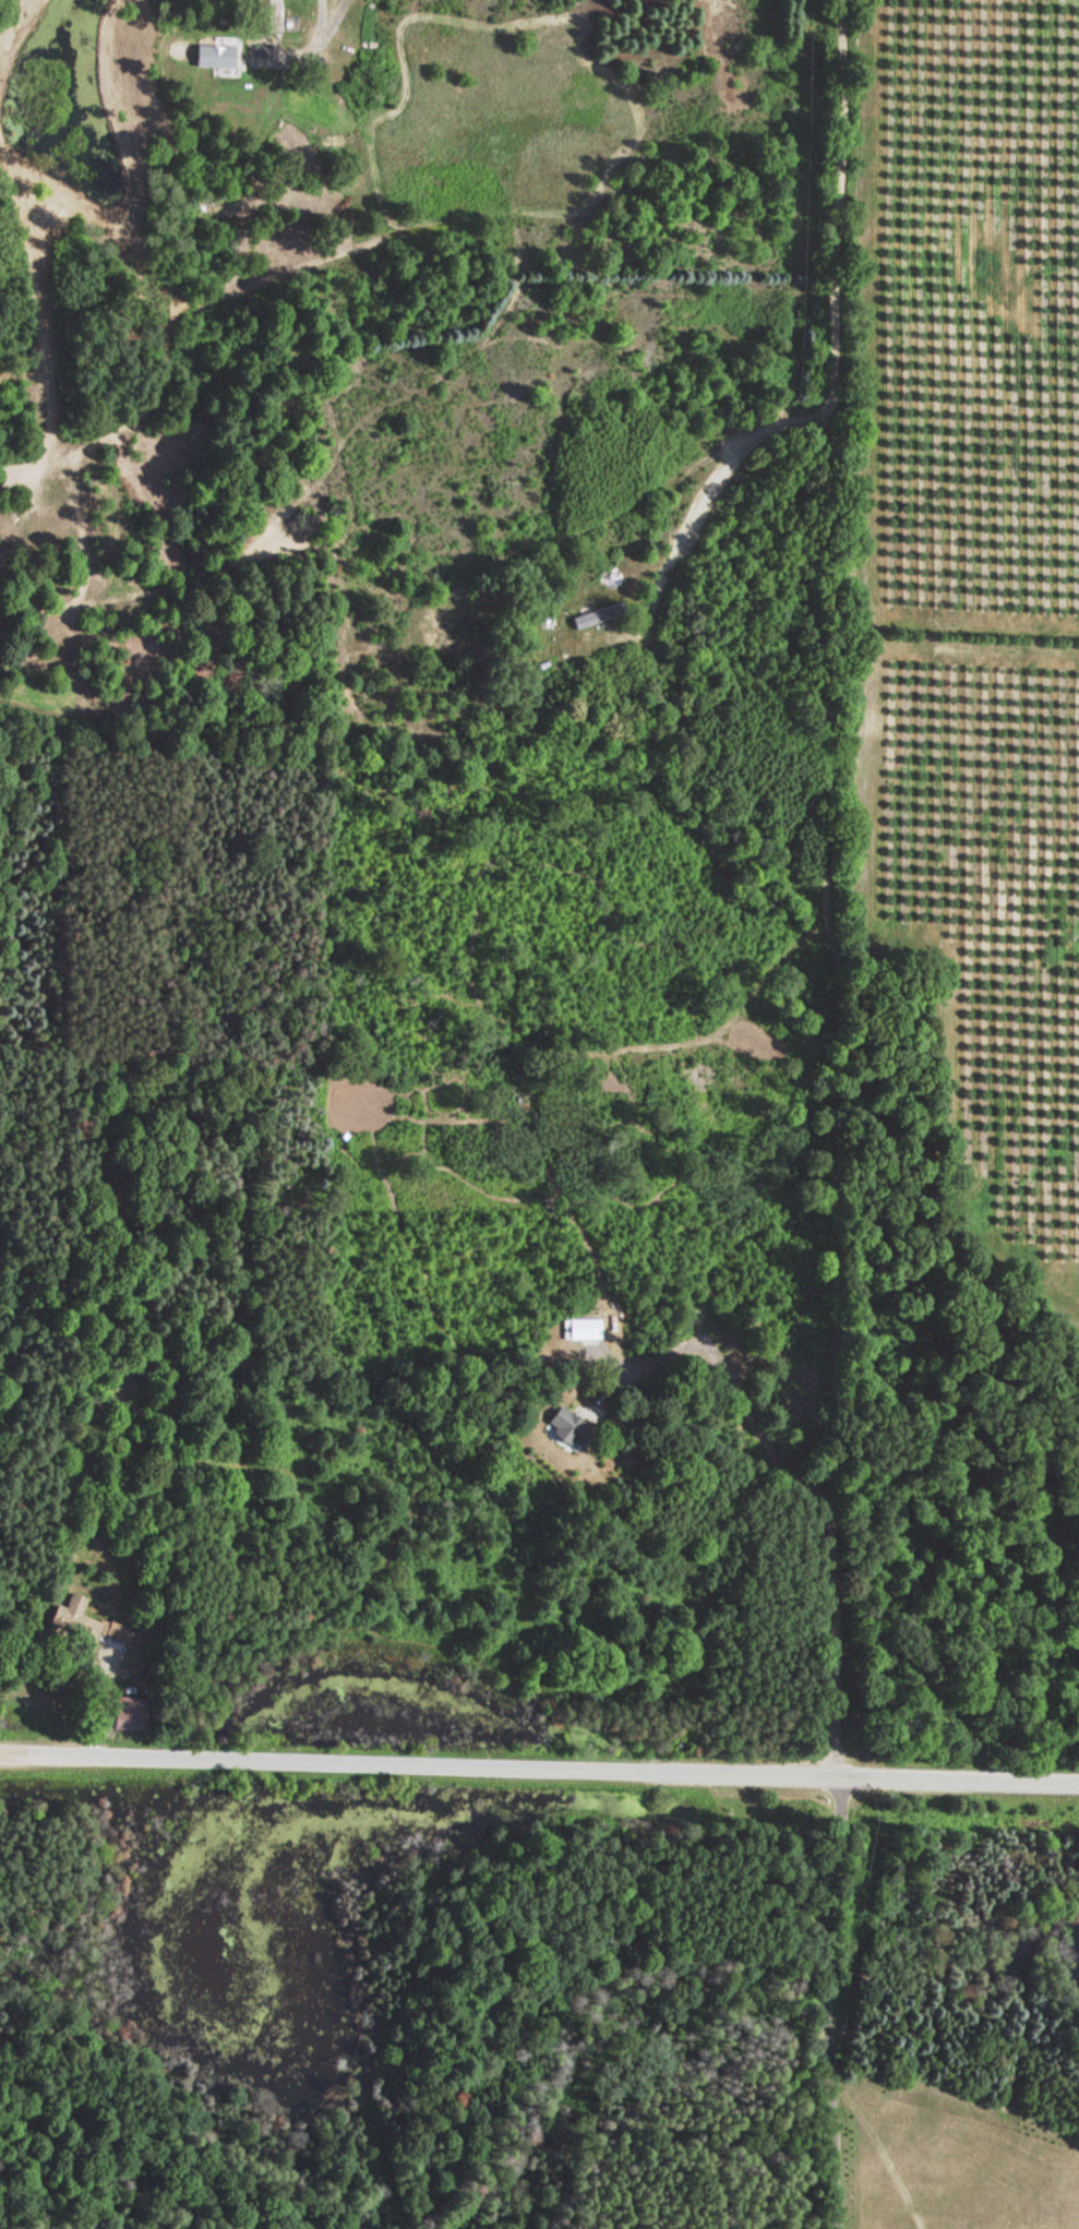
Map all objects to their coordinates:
building: (267, 16)
road: (293, 16)
building: (213, 57)
building: (597, 618)
road: (824, 887)
road: (638, 972)
building: (583, 1331)
building: (567, 1430)
building: (75, 1619)
building: (129, 1715)
road: (539, 1766)

